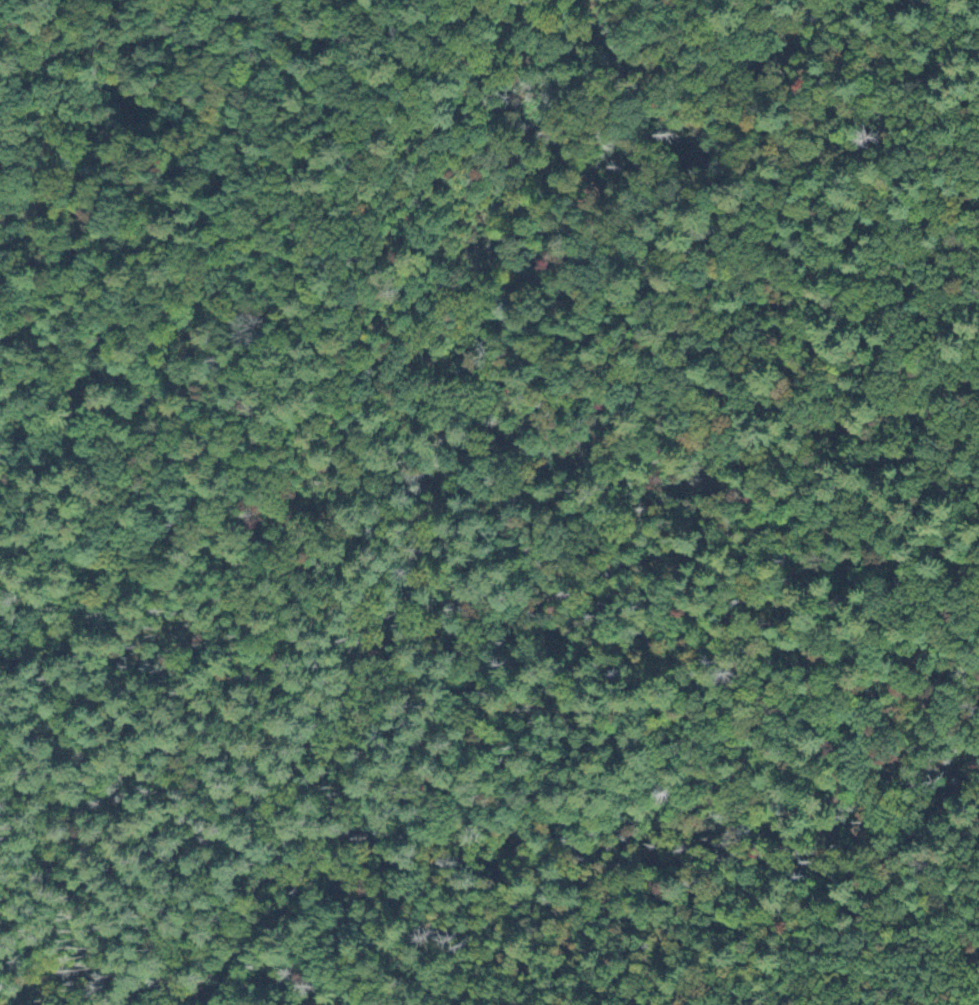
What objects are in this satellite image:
road: (789, 1)
road: (917, 222)
road: (228, 257)

